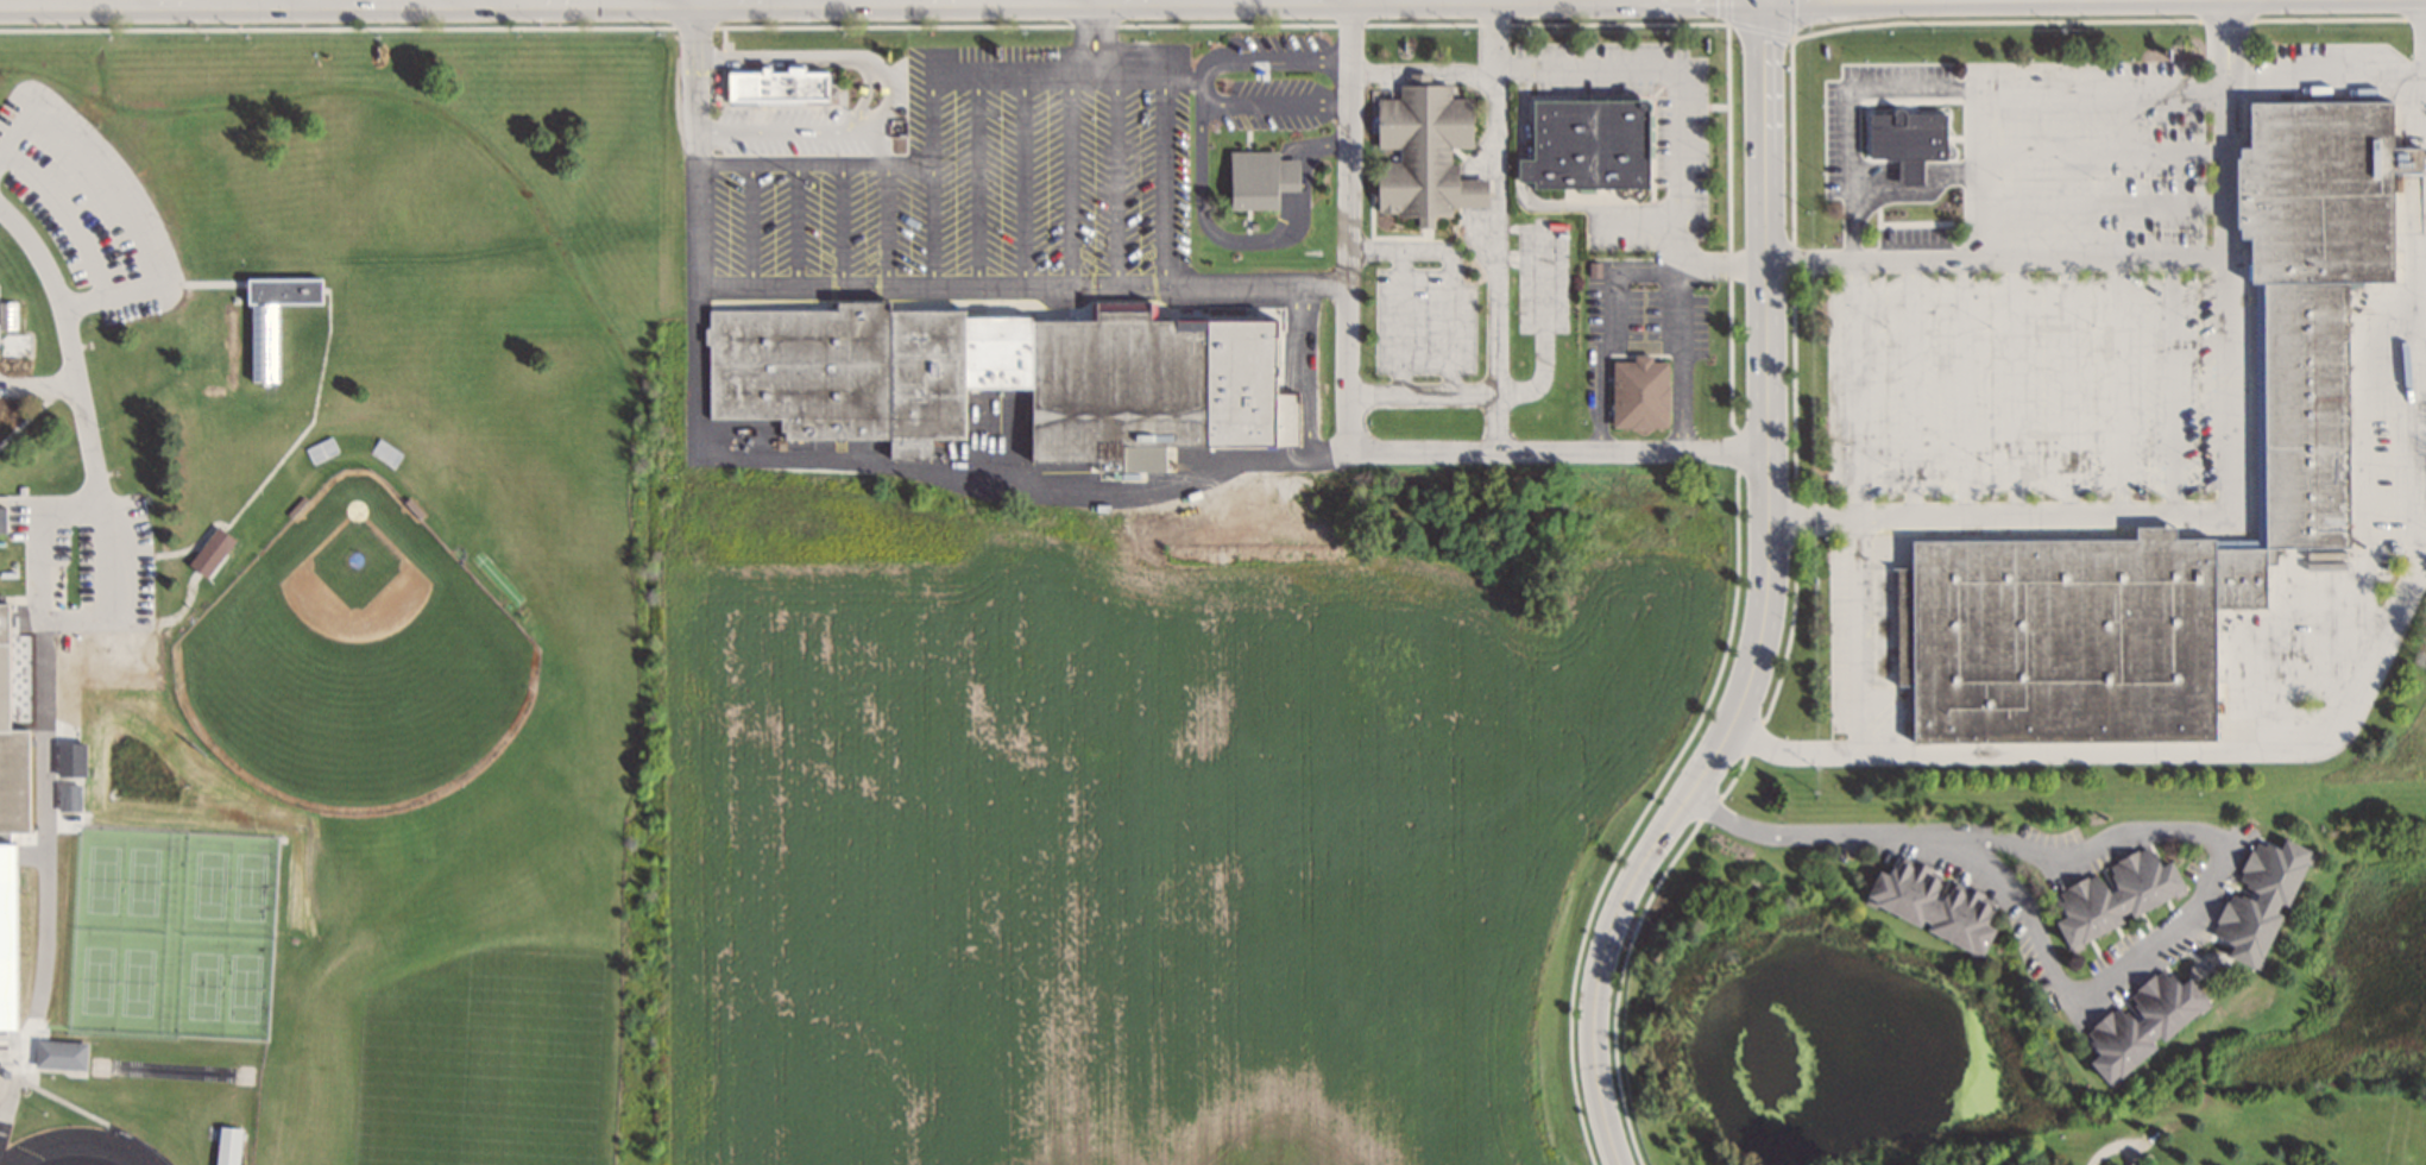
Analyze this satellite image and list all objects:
road: (126, 1)
road: (276, 1)
road: (352, 1)
road: (487, 1)
road: (814, 1)
road: (537, 2)
road: (1281, 57)
road: (1208, 65)
road: (2294, 69)
road: (1183, 76)
road: (1666, 81)
building: (779, 83)
road: (1201, 88)
road: (1165, 96)
road: (1273, 102)
building: (1907, 140)
road: (1348, 141)
building: (1580, 145)
building: (1423, 153)
road: (2219, 163)
building: (1259, 177)
building: (2313, 189)
road: (1491, 225)
road: (1249, 240)
road: (1099, 284)
road: (1682, 310)
road: (80, 332)
building: (964, 376)
road: (2224, 385)
building: (1638, 392)
building: (2302, 411)
building: (320, 449)
building: (385, 452)
building: (1895, 471)
road: (1017, 483)
building: (2237, 575)
road: (1766, 600)
building: (2061, 637)
park: (357, 655)
building: (12, 781)
crop: (1170, 824)
road: (1964, 833)
building: (2112, 894)
building: (2256, 899)
building: (1929, 902)
park: (174, 932)
road: (2069, 994)
building: (2140, 1022)
park: (529, 1069)

